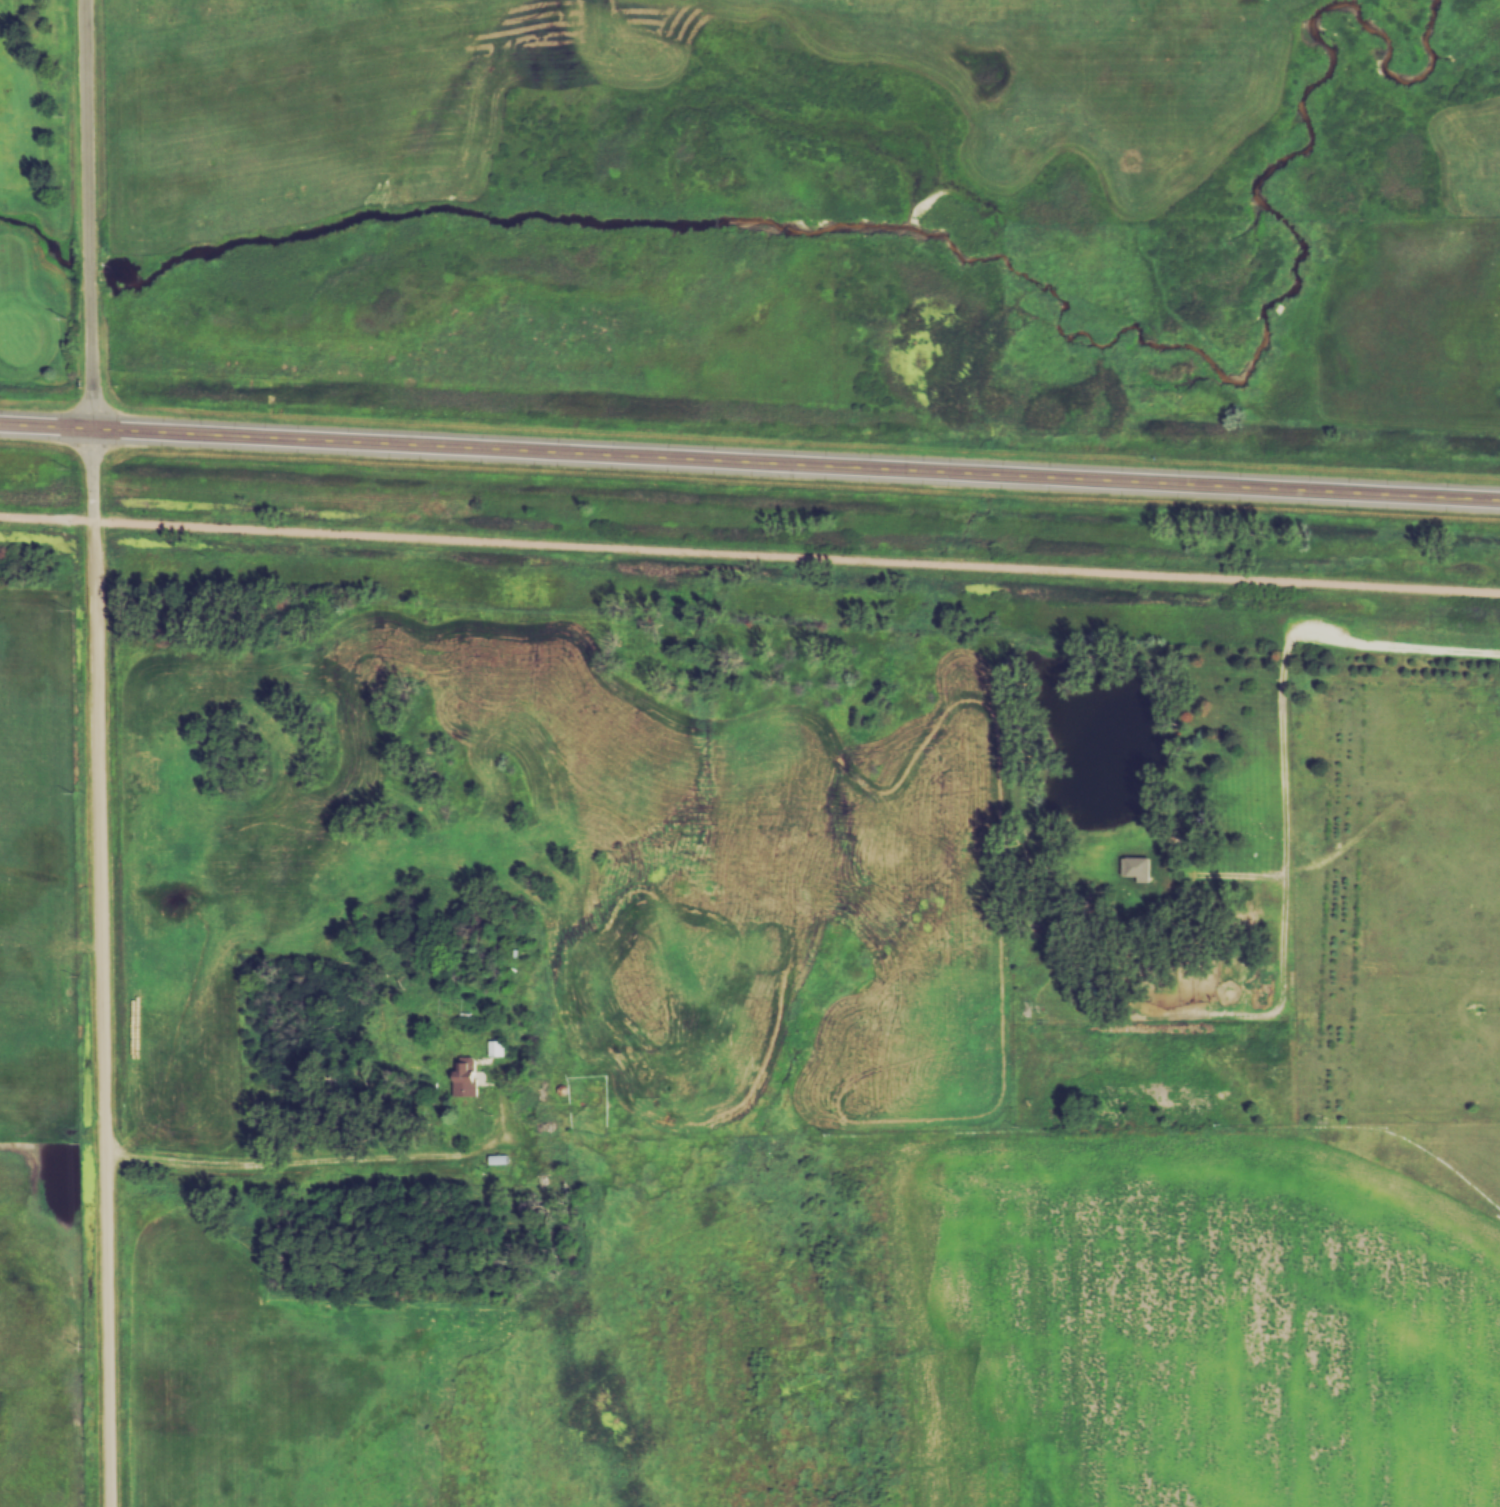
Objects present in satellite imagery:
park: (55, 201)
road: (750, 466)
road: (750, 553)
road: (100, 753)
building: (1140, 868)
building: (467, 1077)
building: (501, 1160)

